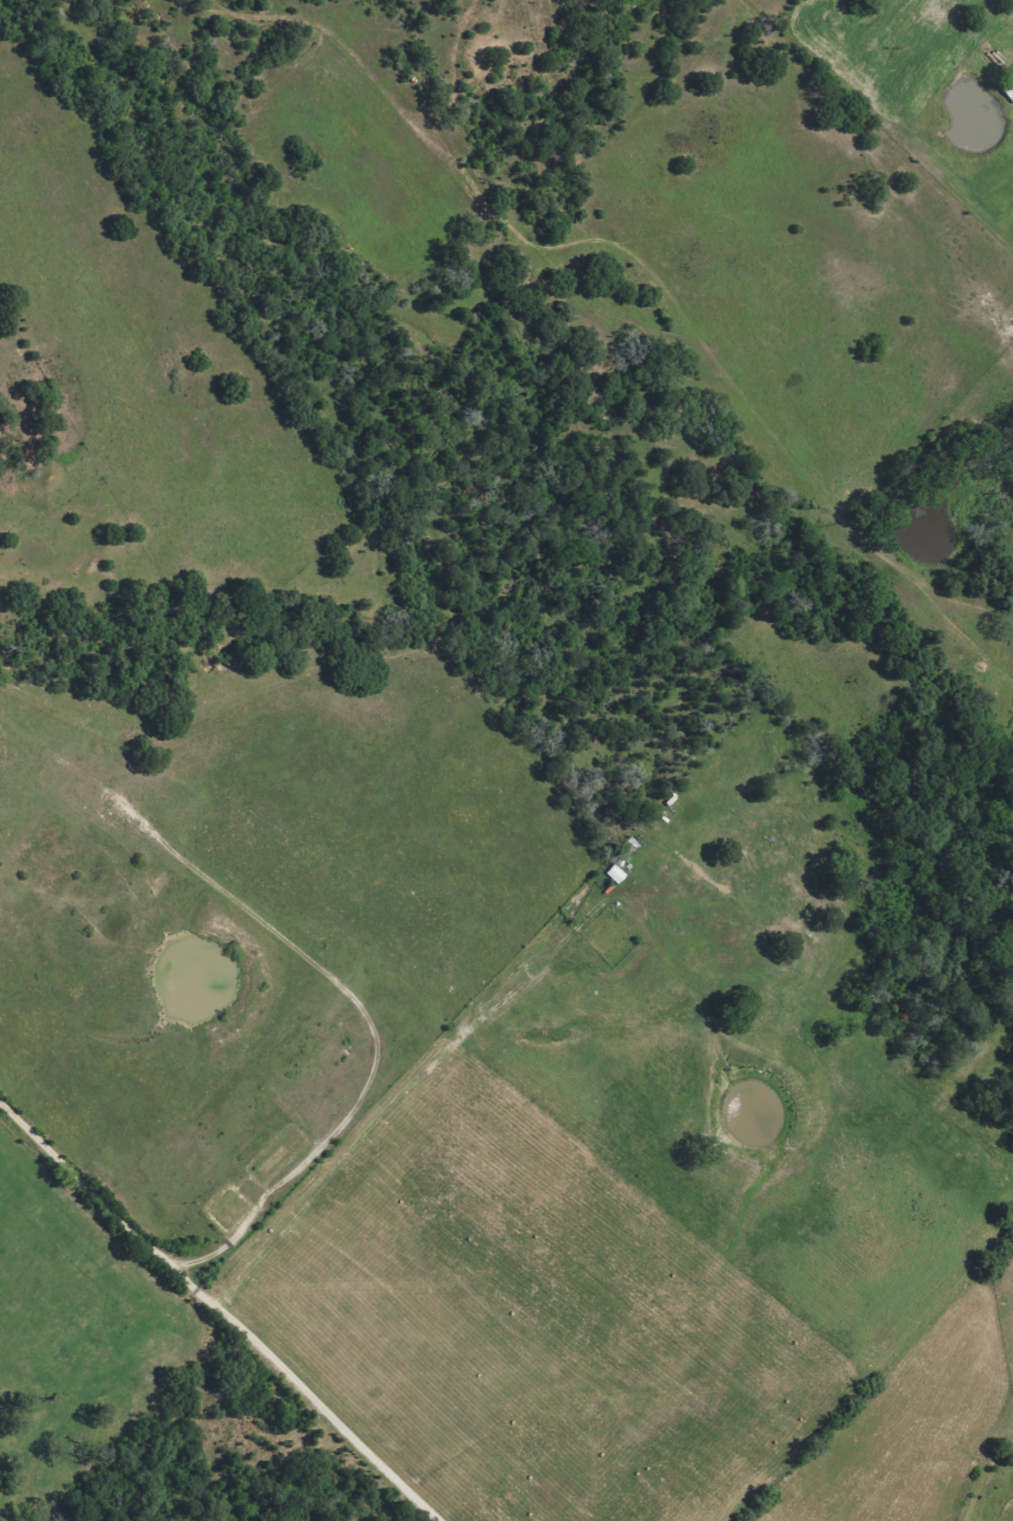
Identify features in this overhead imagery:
road: (647, 408)
petroleum well: (116, 810)
road: (95, 1196)

